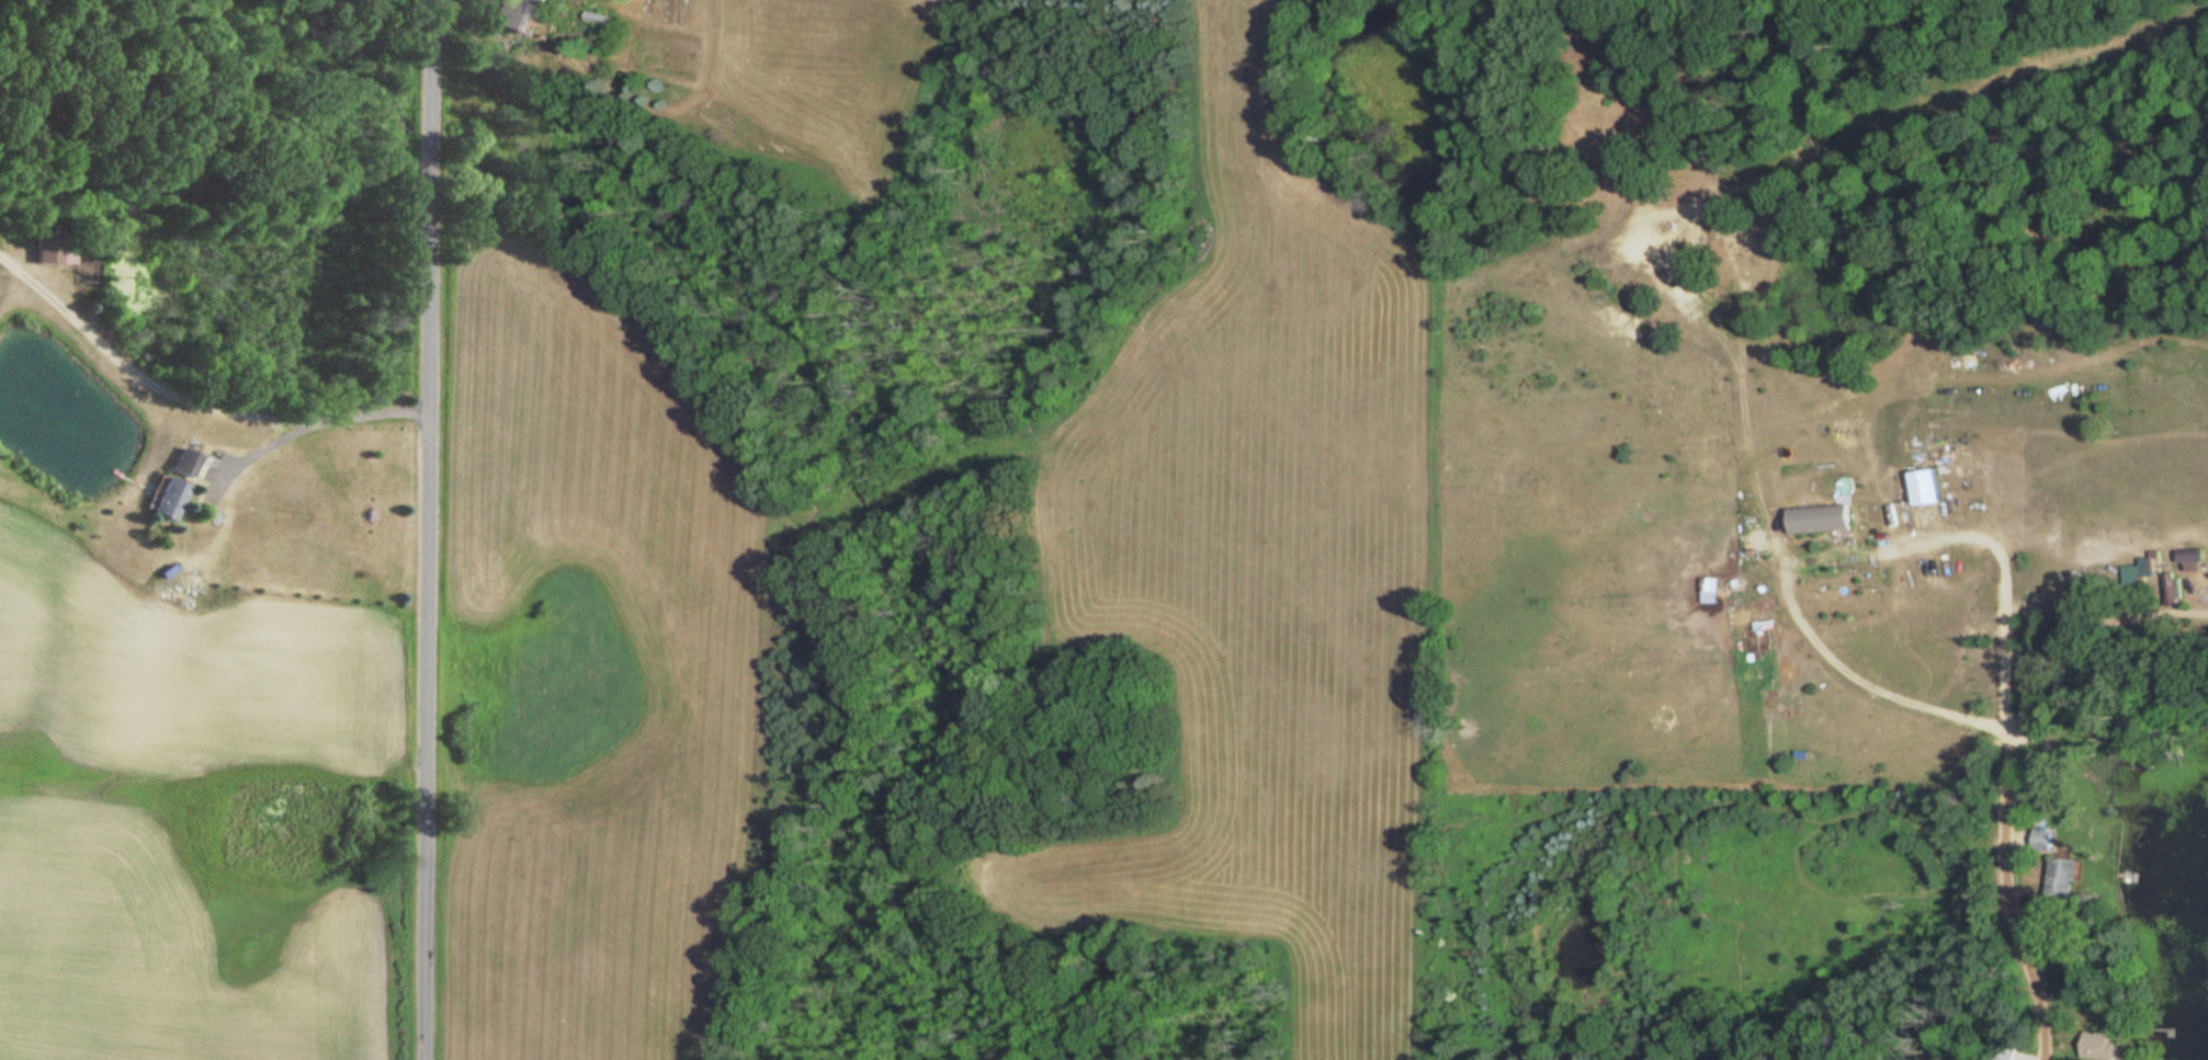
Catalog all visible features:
building: (519, 15)
building: (55, 247)
building: (1955, 387)
road: (194, 389)
road: (574, 461)
building: (175, 488)
building: (1823, 521)
road: (429, 529)
building: (2192, 556)
road: (1994, 591)
building: (2172, 591)
building: (2038, 841)
building: (2063, 879)
road: (2009, 908)
building: (2102, 1047)

